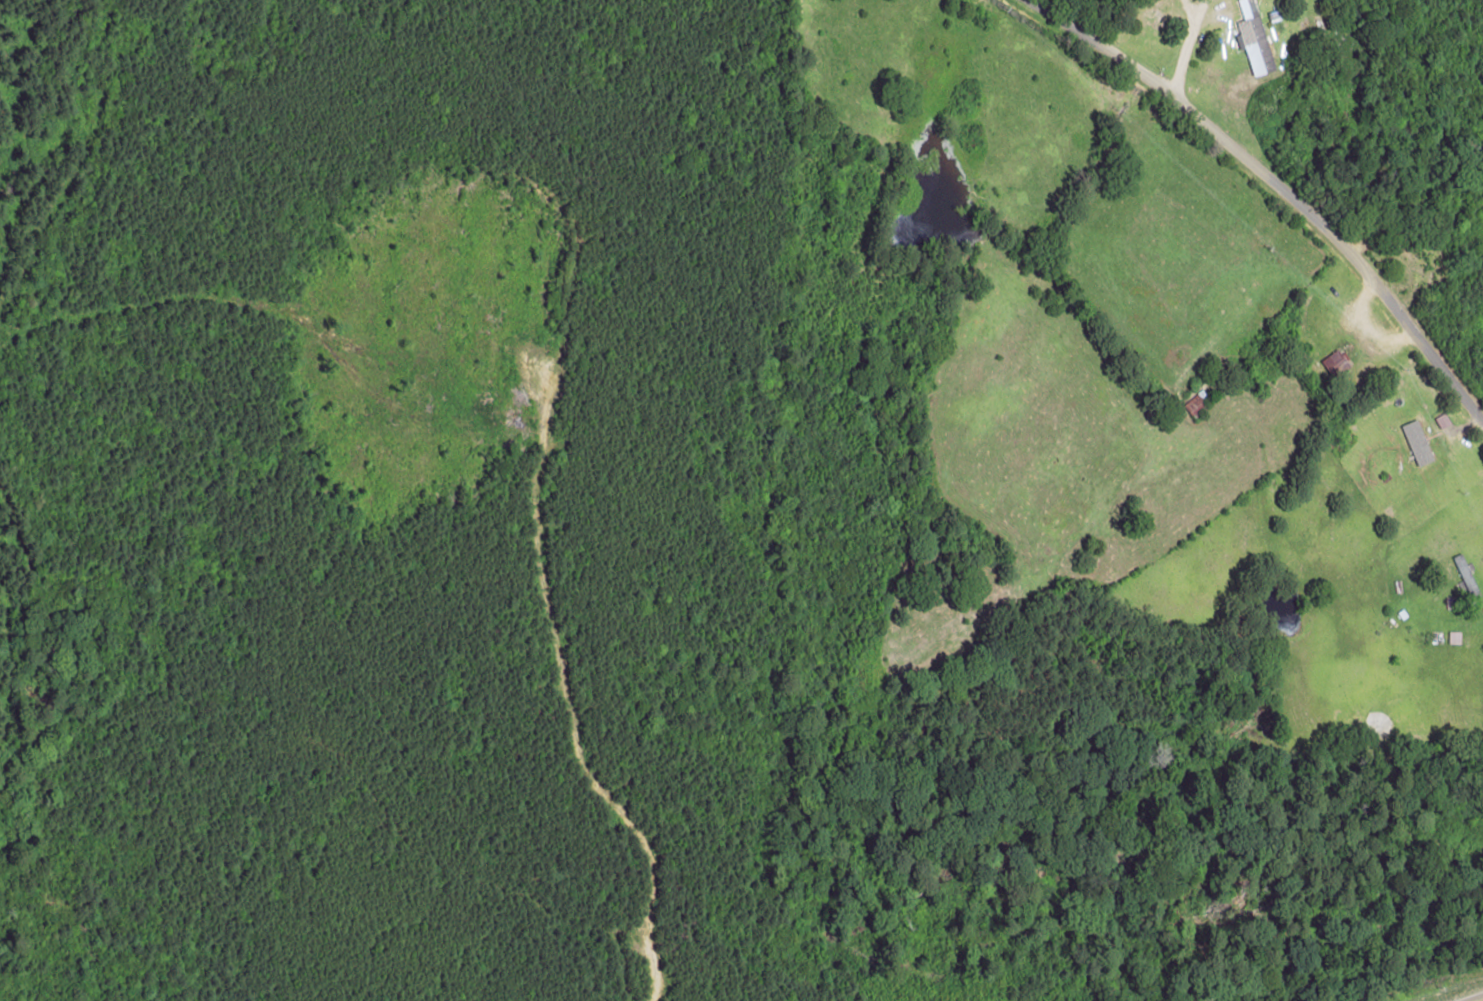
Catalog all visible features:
building: (1254, 39)
road: (1258, 179)
building: (1336, 363)
building: (1196, 405)
building: (1418, 443)
building: (1455, 638)
road: (1477, 999)

